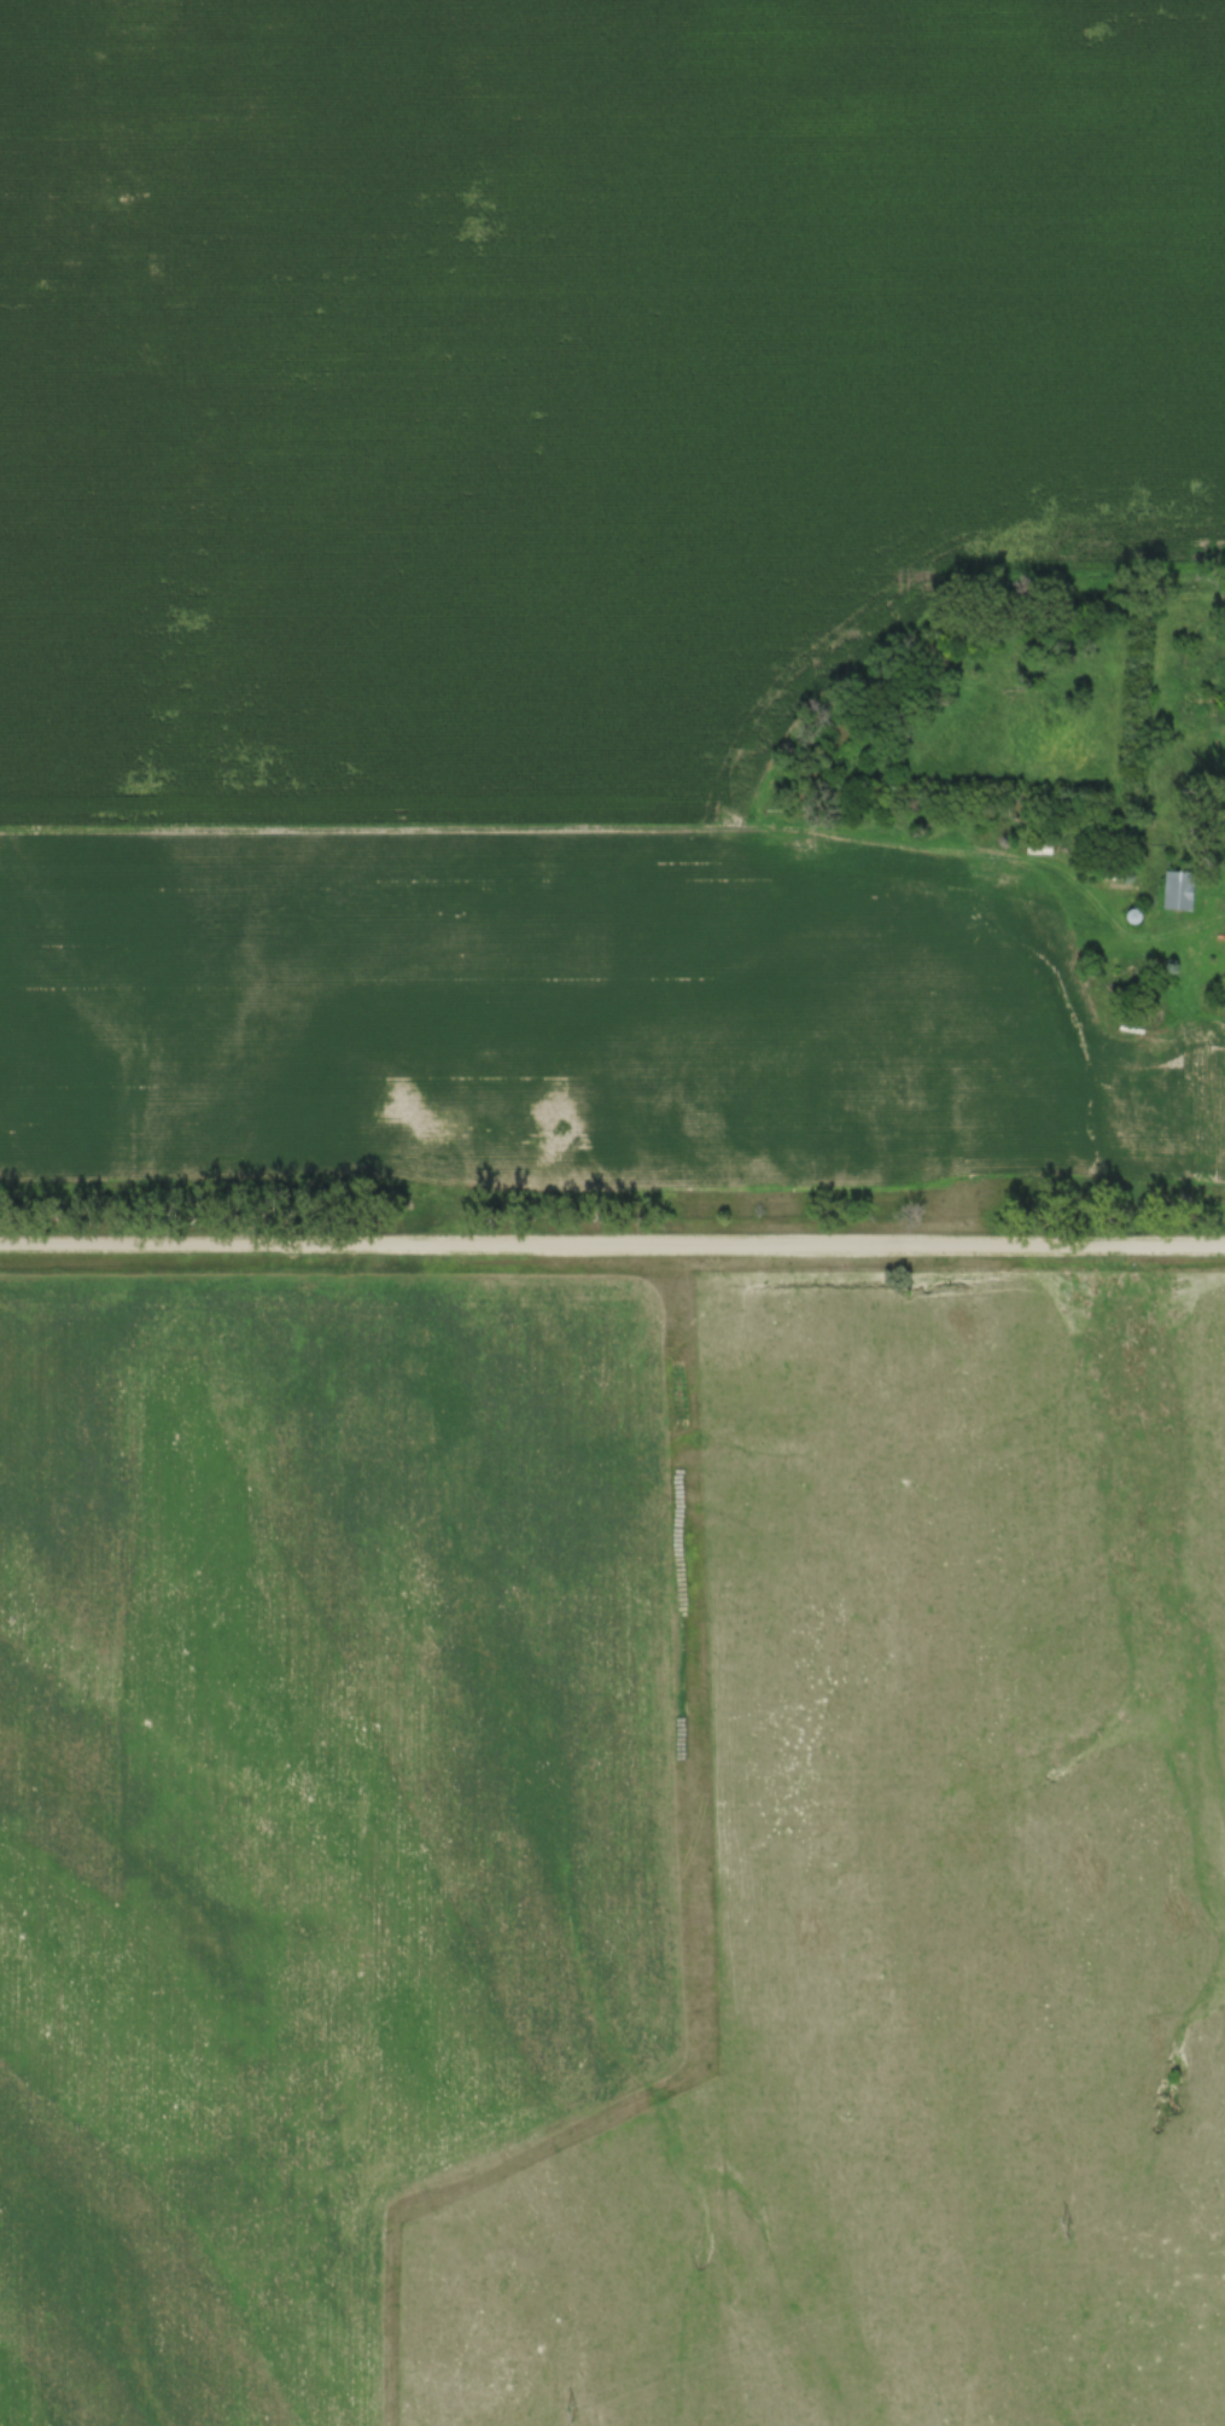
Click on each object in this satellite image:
building: (1178, 888)
road: (612, 1246)
power tower: (1064, 2228)
power tower: (574, 2414)

